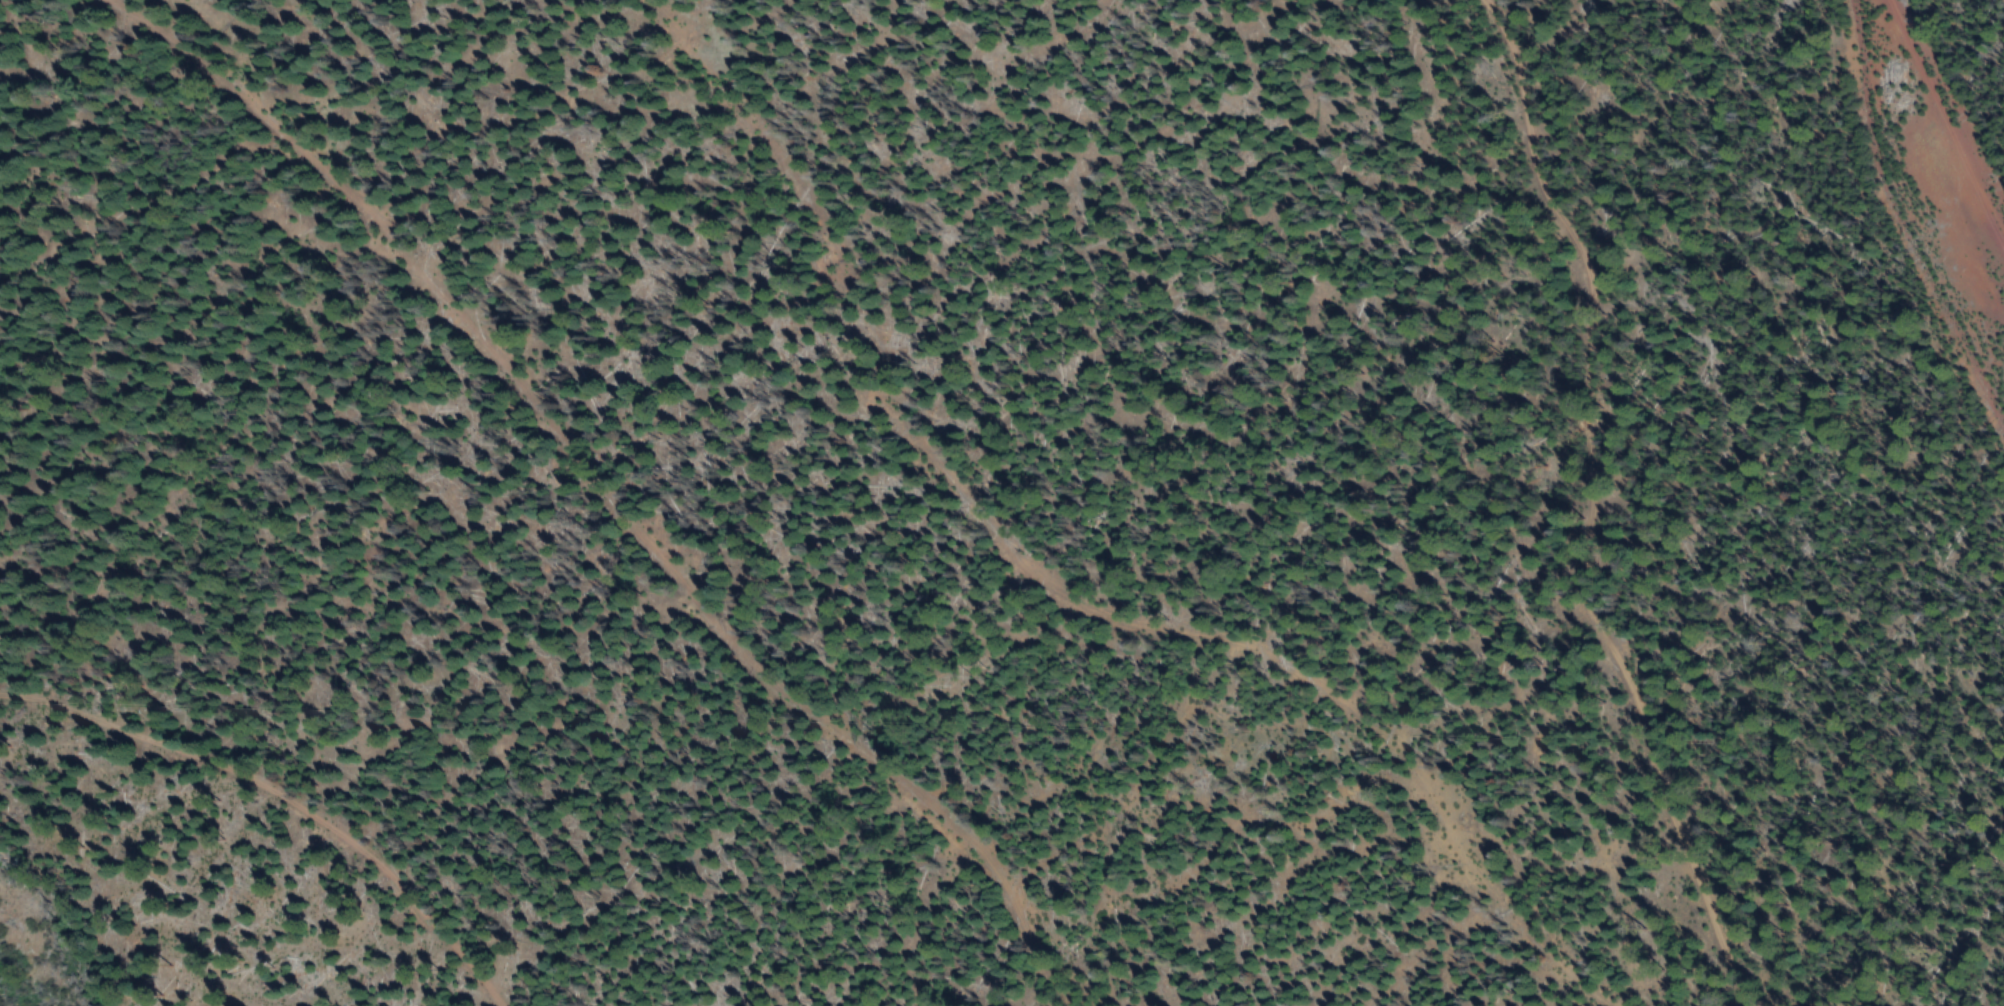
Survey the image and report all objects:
road: (626, 499)
road: (1587, 504)
road: (1065, 594)
road: (295, 781)
road: (1455, 933)

